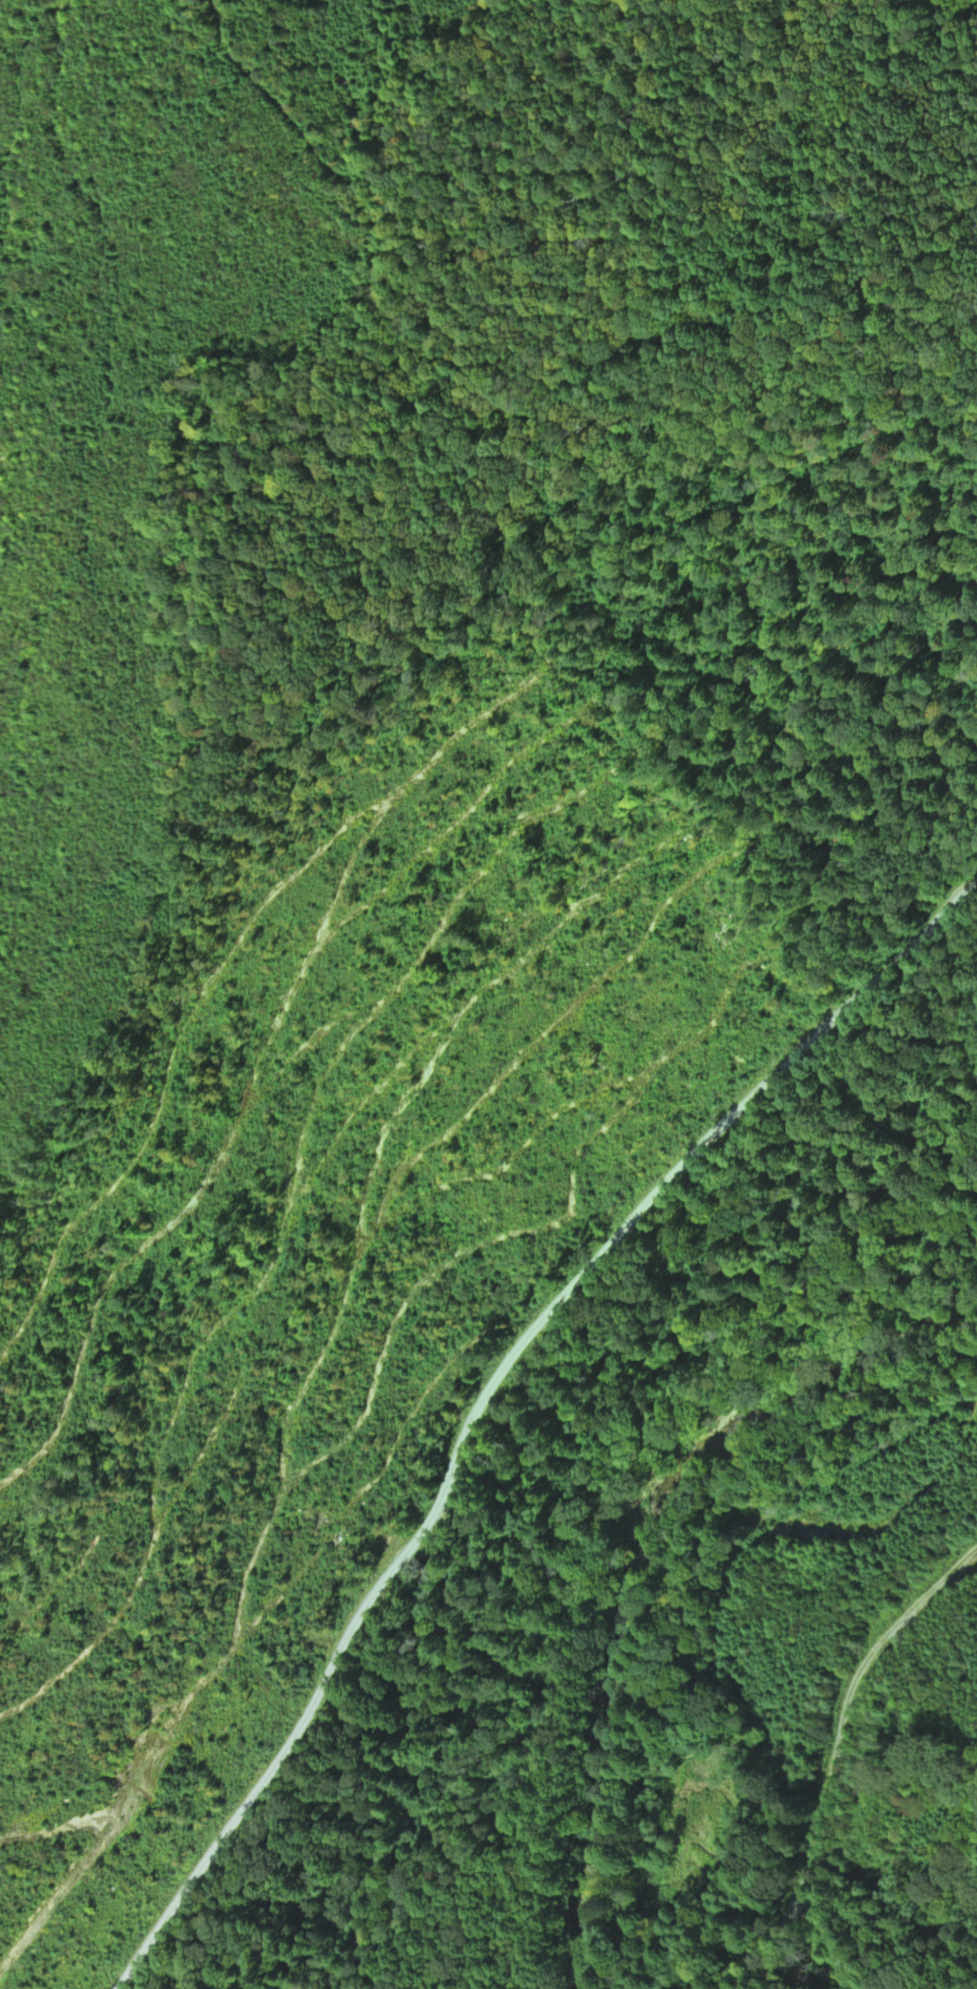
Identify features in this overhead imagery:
road: (468, 1386)

